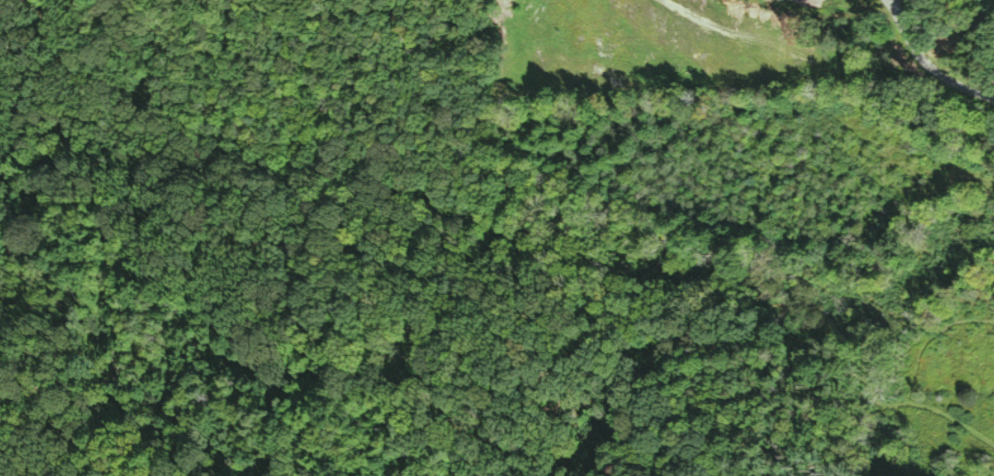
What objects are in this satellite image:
road: (993, 0)
road: (930, 55)

